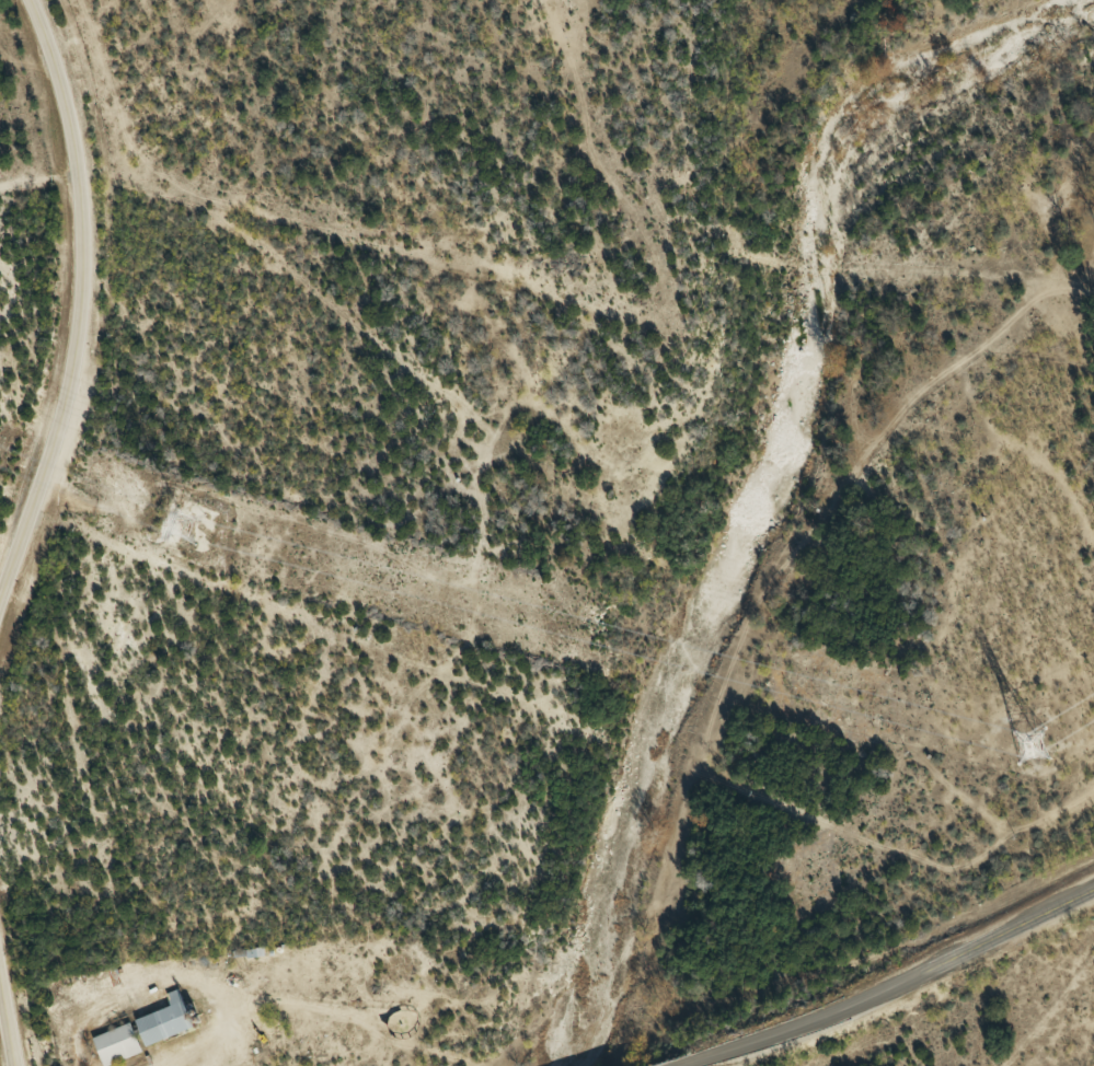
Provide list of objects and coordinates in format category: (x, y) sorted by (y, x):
road: (83, 308)
power tower: (179, 523)
power tower: (1035, 750)
road: (900, 981)
road: (7, 1021)
building: (165, 1027)
building: (117, 1048)
road: (695, 1064)

